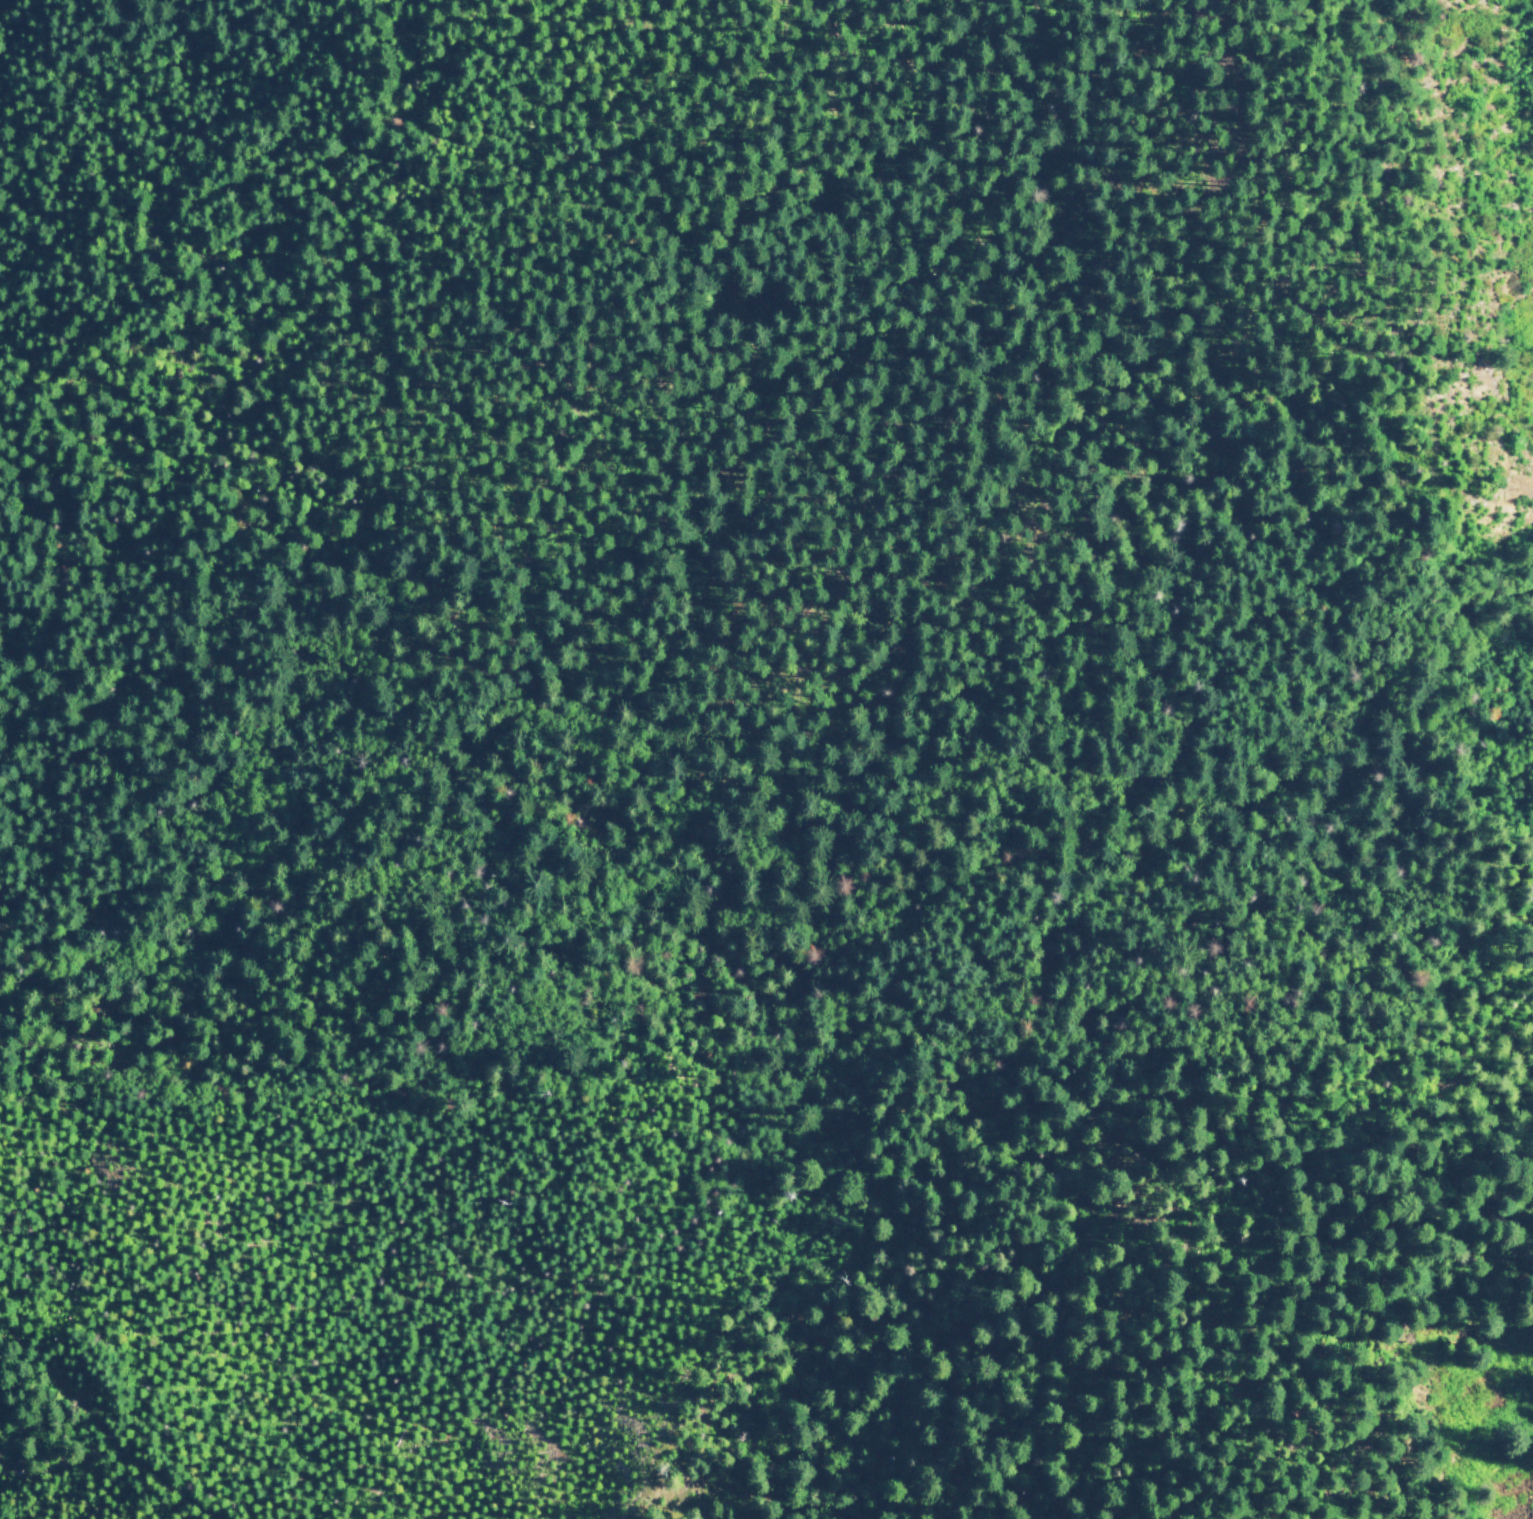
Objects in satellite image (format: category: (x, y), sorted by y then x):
road: (25, 1507)

